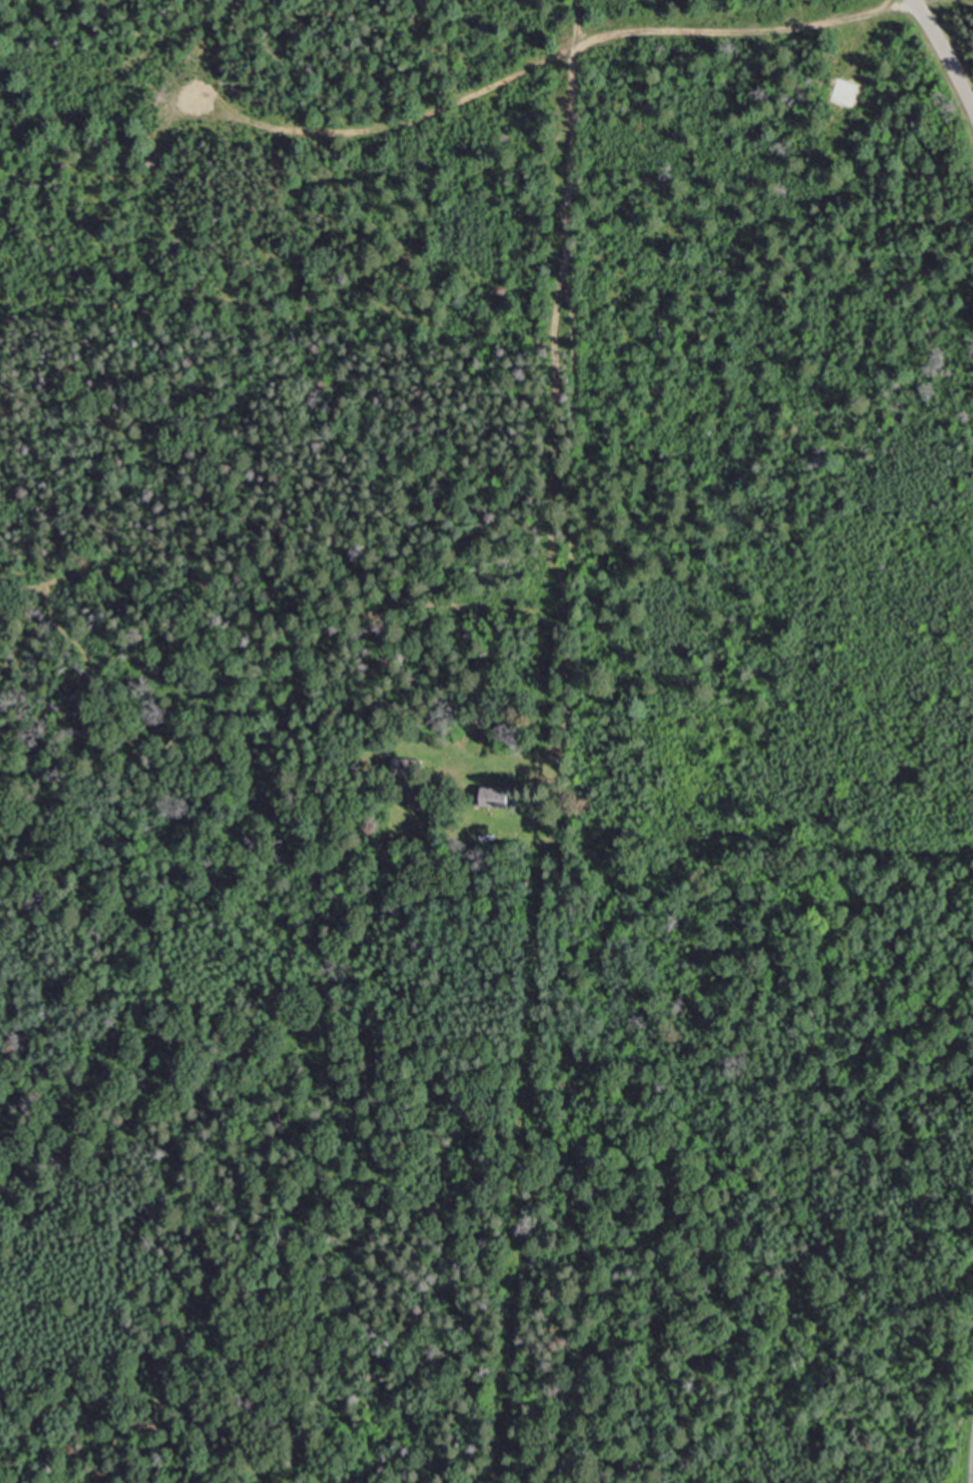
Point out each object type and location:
road: (944, 53)
road: (548, 835)

